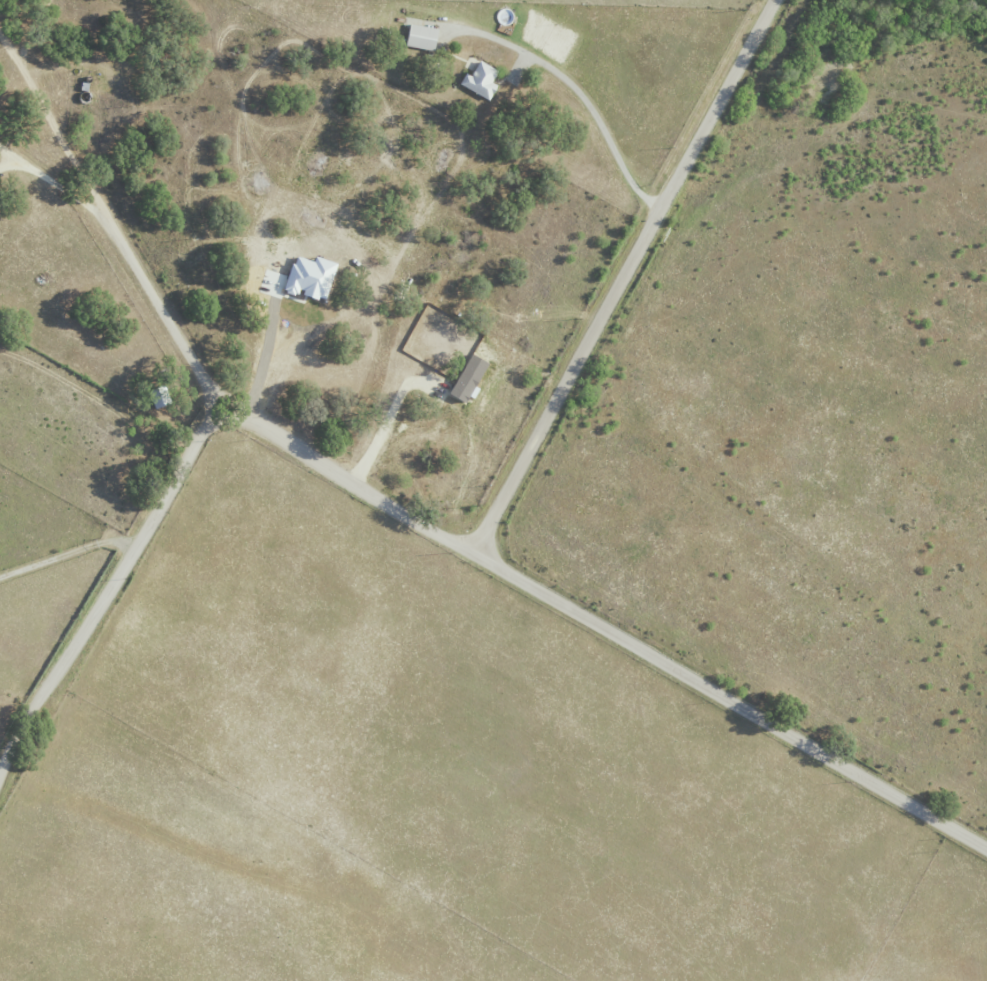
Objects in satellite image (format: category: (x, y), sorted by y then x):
building: (424, 37)
building: (483, 81)
road: (595, 123)
road: (48, 128)
road: (136, 256)
road: (620, 275)
building: (313, 277)
road: (265, 366)
building: (471, 378)
road: (390, 415)
road: (354, 482)
road: (68, 555)
road: (109, 593)
road: (731, 701)

